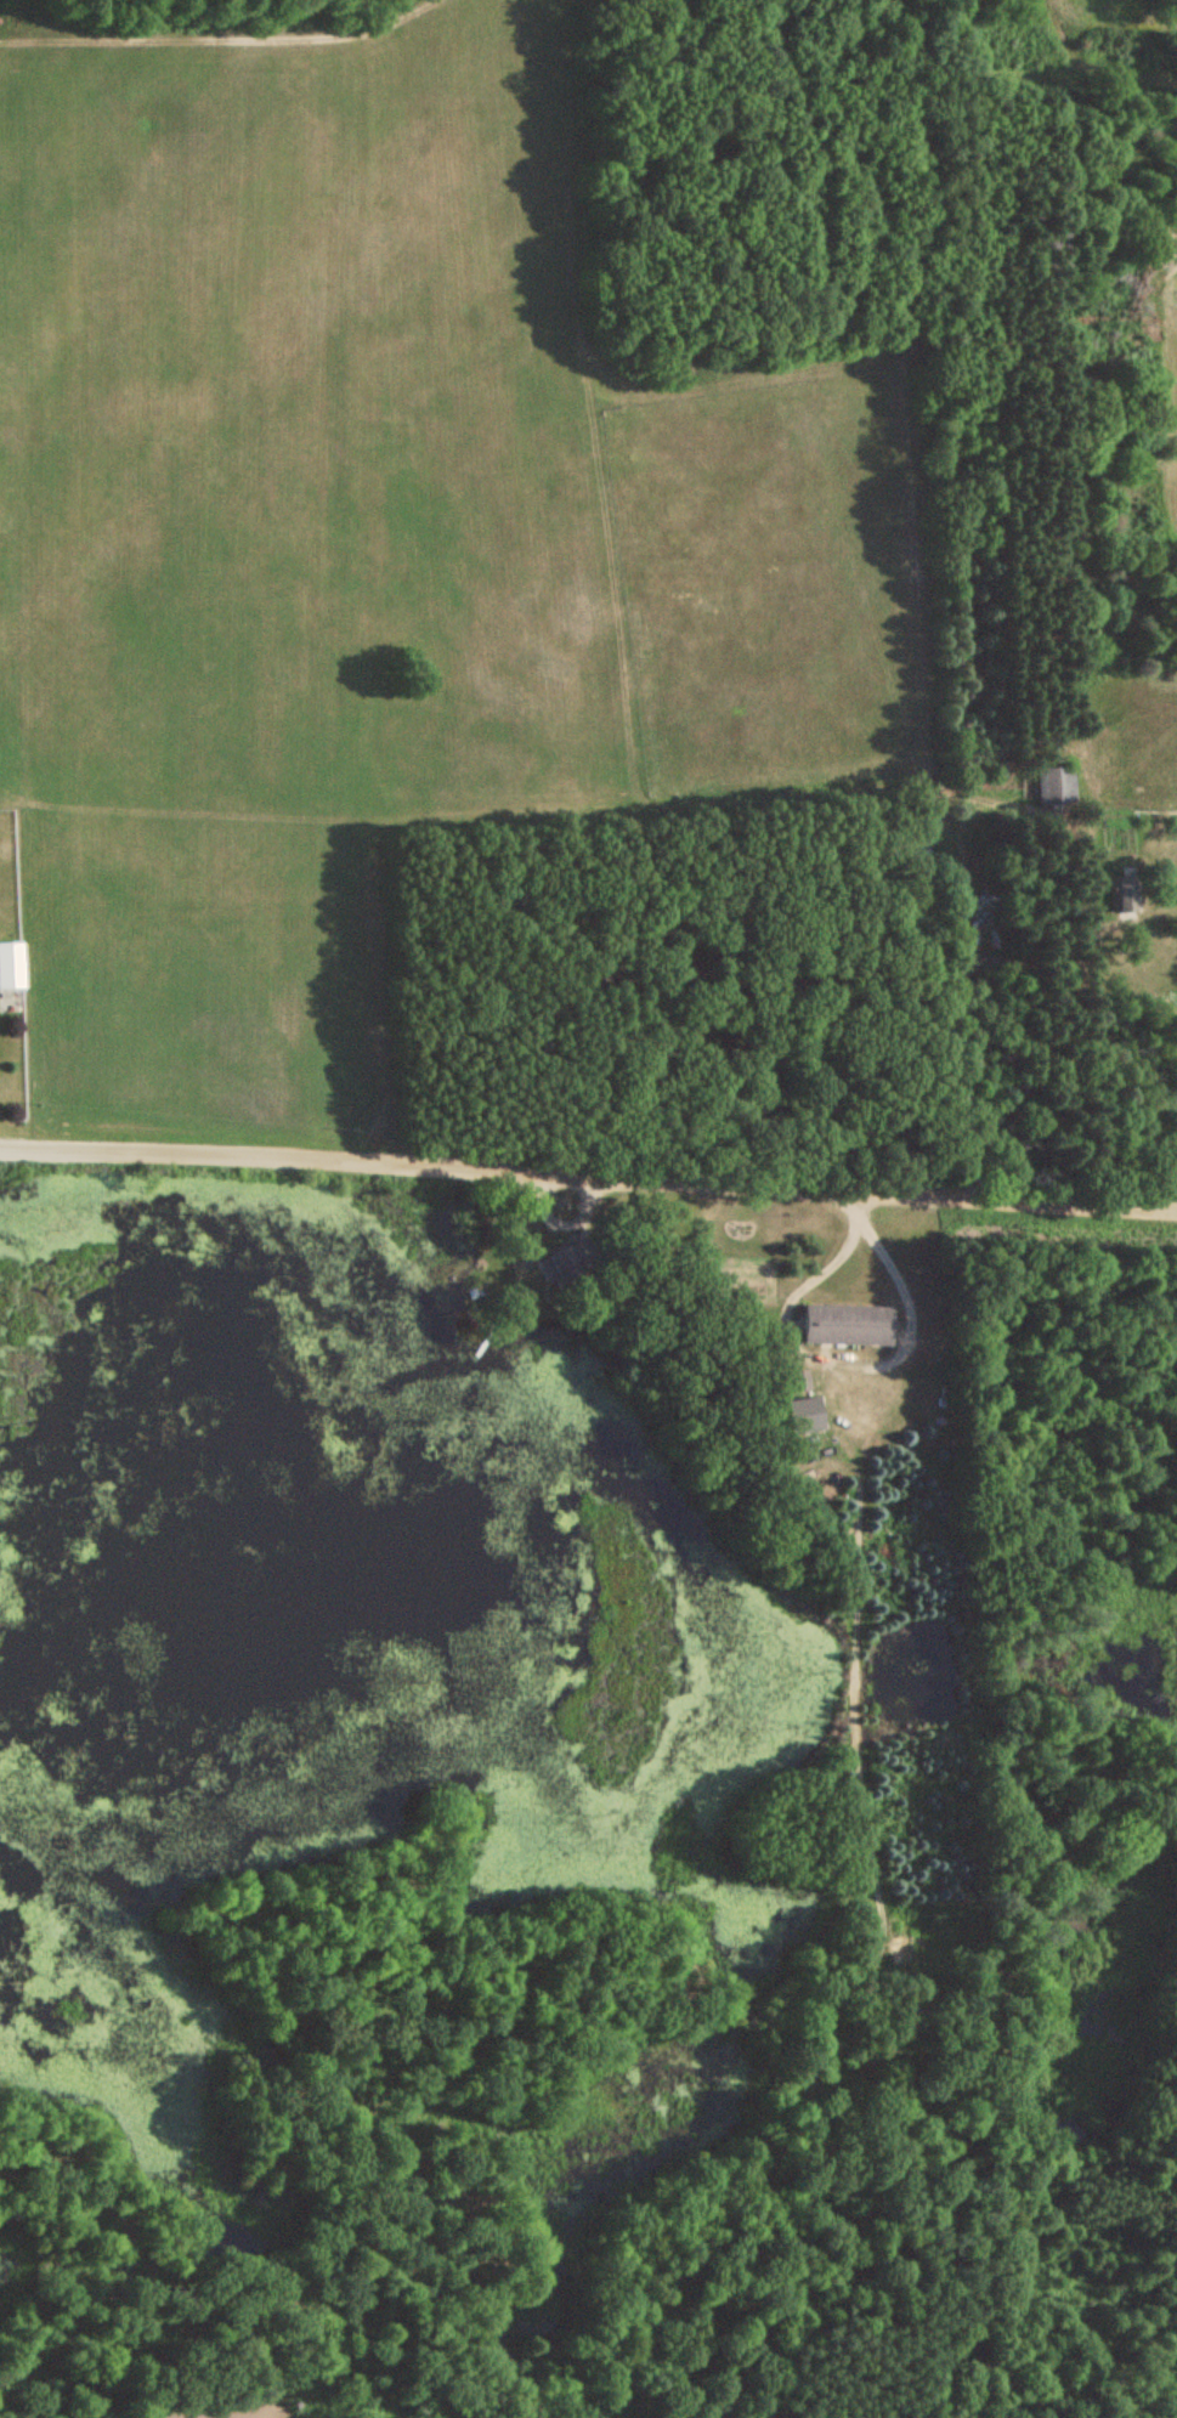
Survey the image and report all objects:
building: (1054, 786)
building: (1124, 895)
building: (10, 965)
road: (588, 1178)
building: (565, 1265)
building: (844, 1325)
road: (849, 1363)

